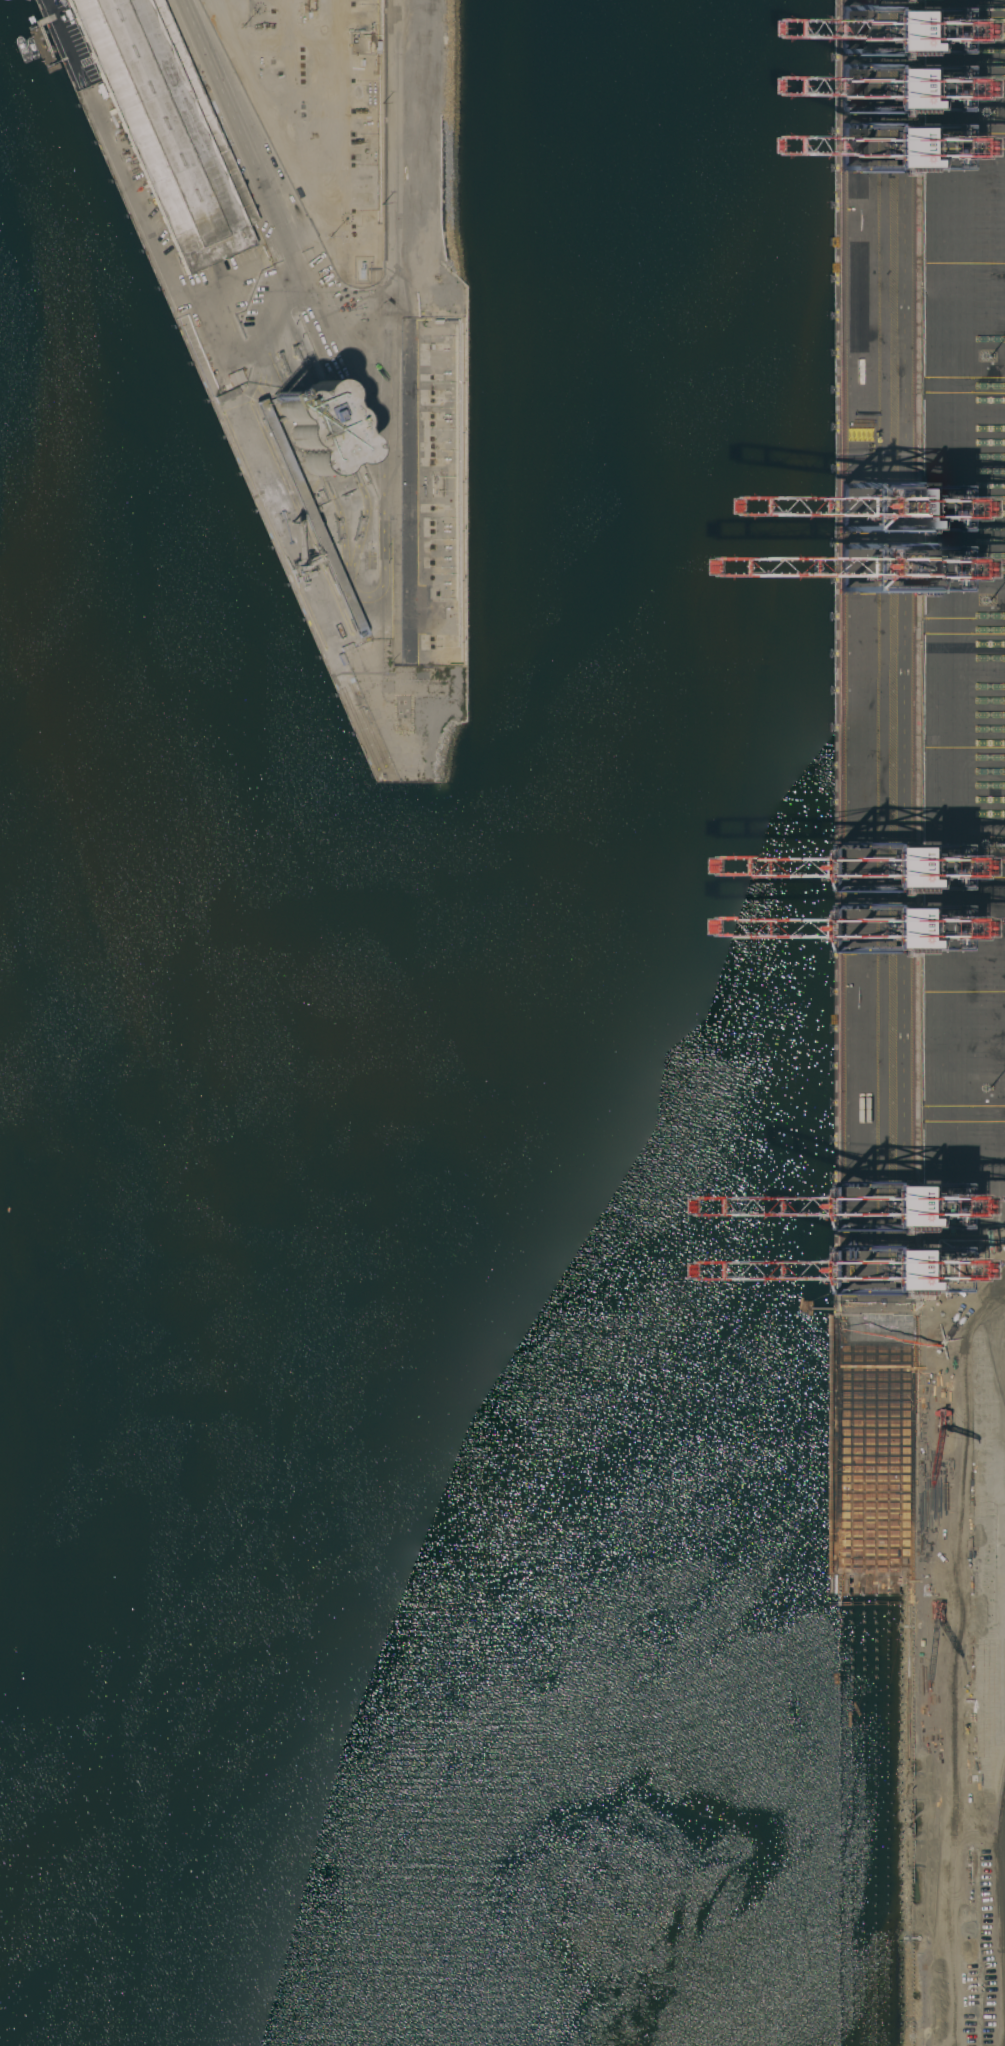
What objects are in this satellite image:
building: (958, 0)
petroleum well: (261, 26)
petroleum well: (358, 110)
building: (167, 128)
petroleum well: (357, 141)
road: (260, 184)
road: (392, 308)
road: (226, 354)
building: (227, 395)
building: (319, 428)
building: (301, 474)
building: (308, 517)

